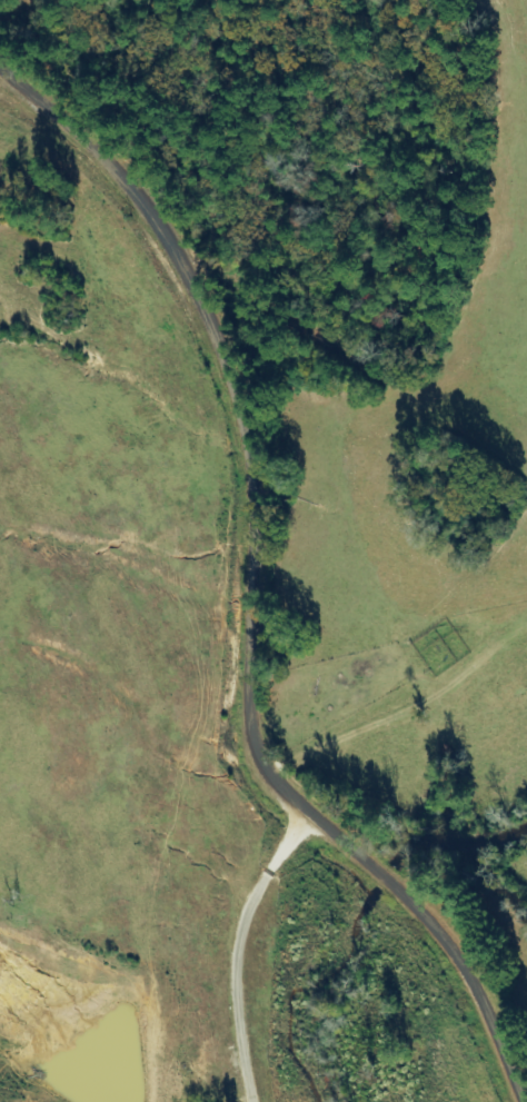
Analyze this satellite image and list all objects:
road: (215, 621)
road: (404, 743)

